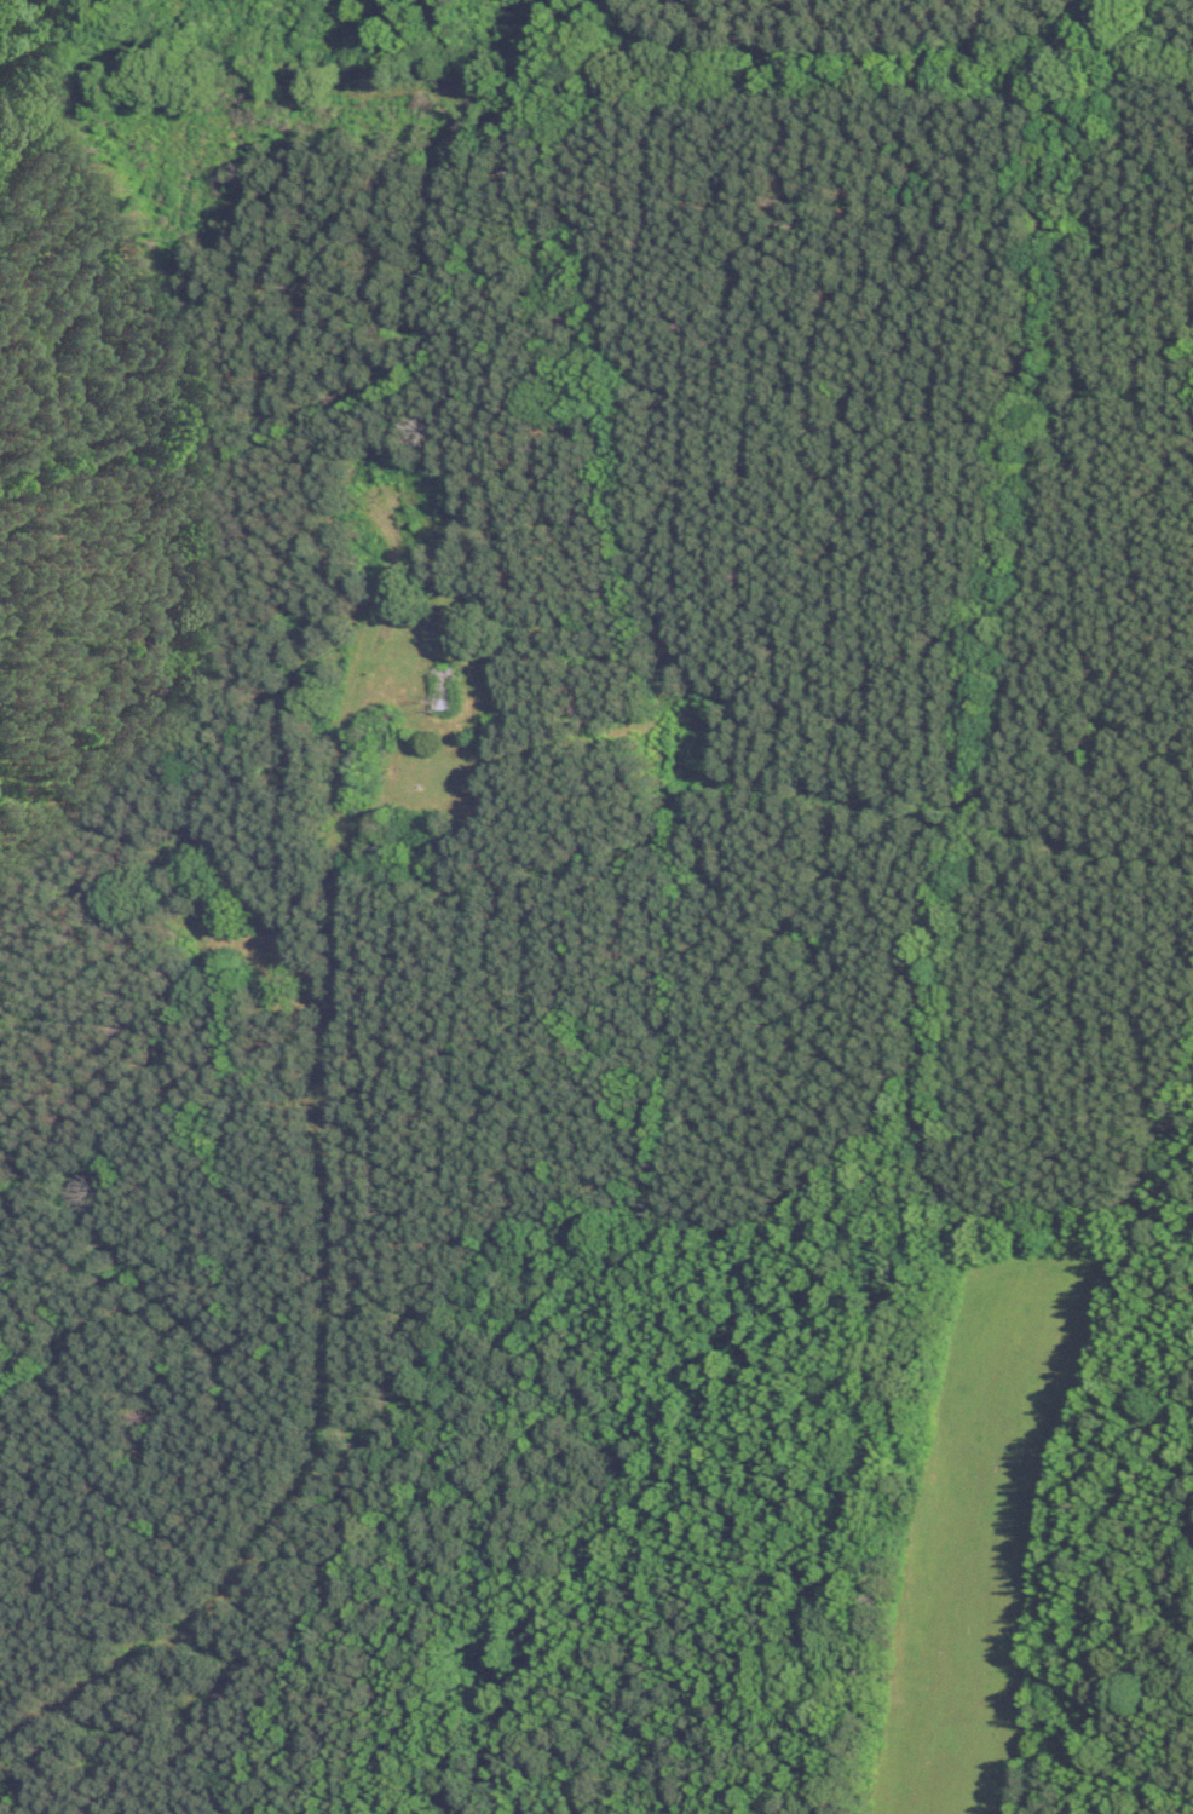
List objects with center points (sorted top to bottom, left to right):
road: (340, 1294)

